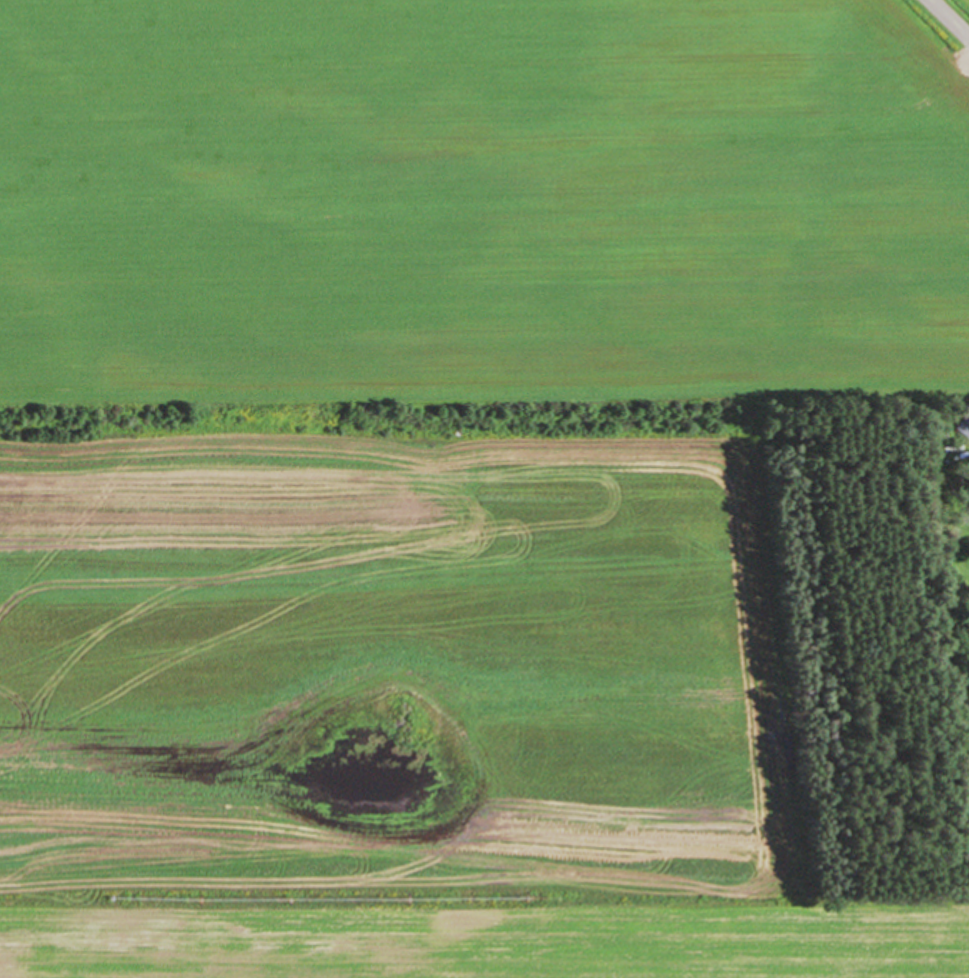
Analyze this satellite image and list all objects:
road: (948, 19)

